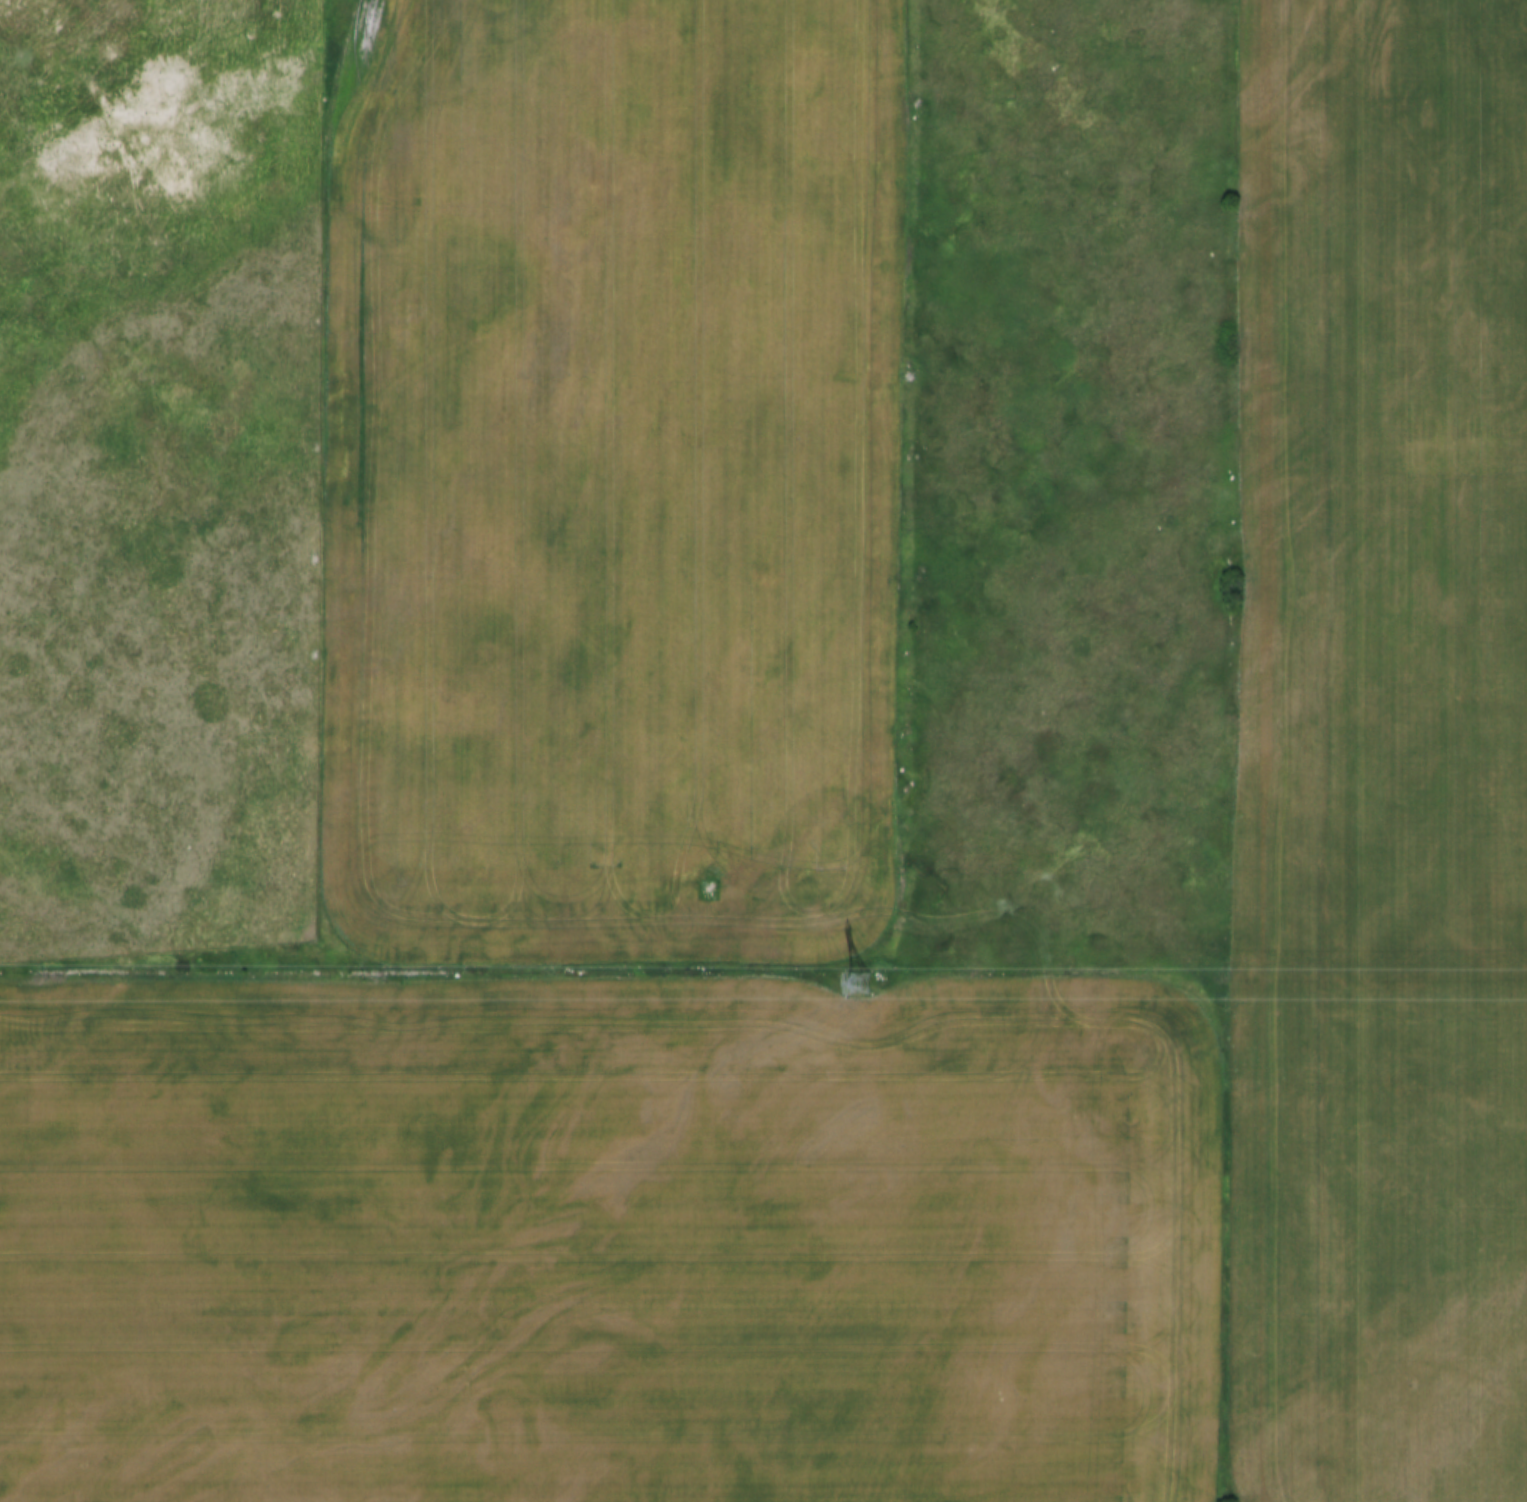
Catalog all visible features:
power tower: (866, 978)

